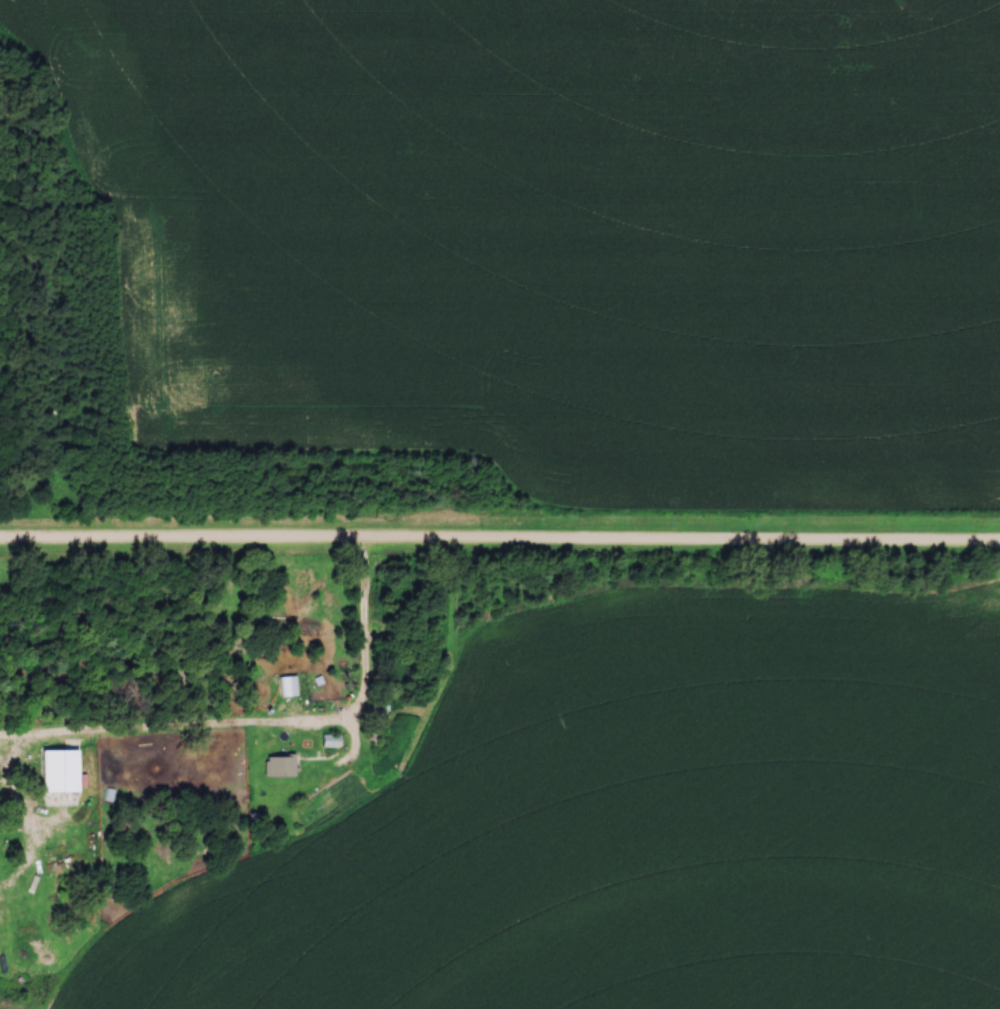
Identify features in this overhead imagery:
road: (499, 541)
building: (290, 688)
road: (267, 728)
building: (334, 742)
building: (65, 773)

